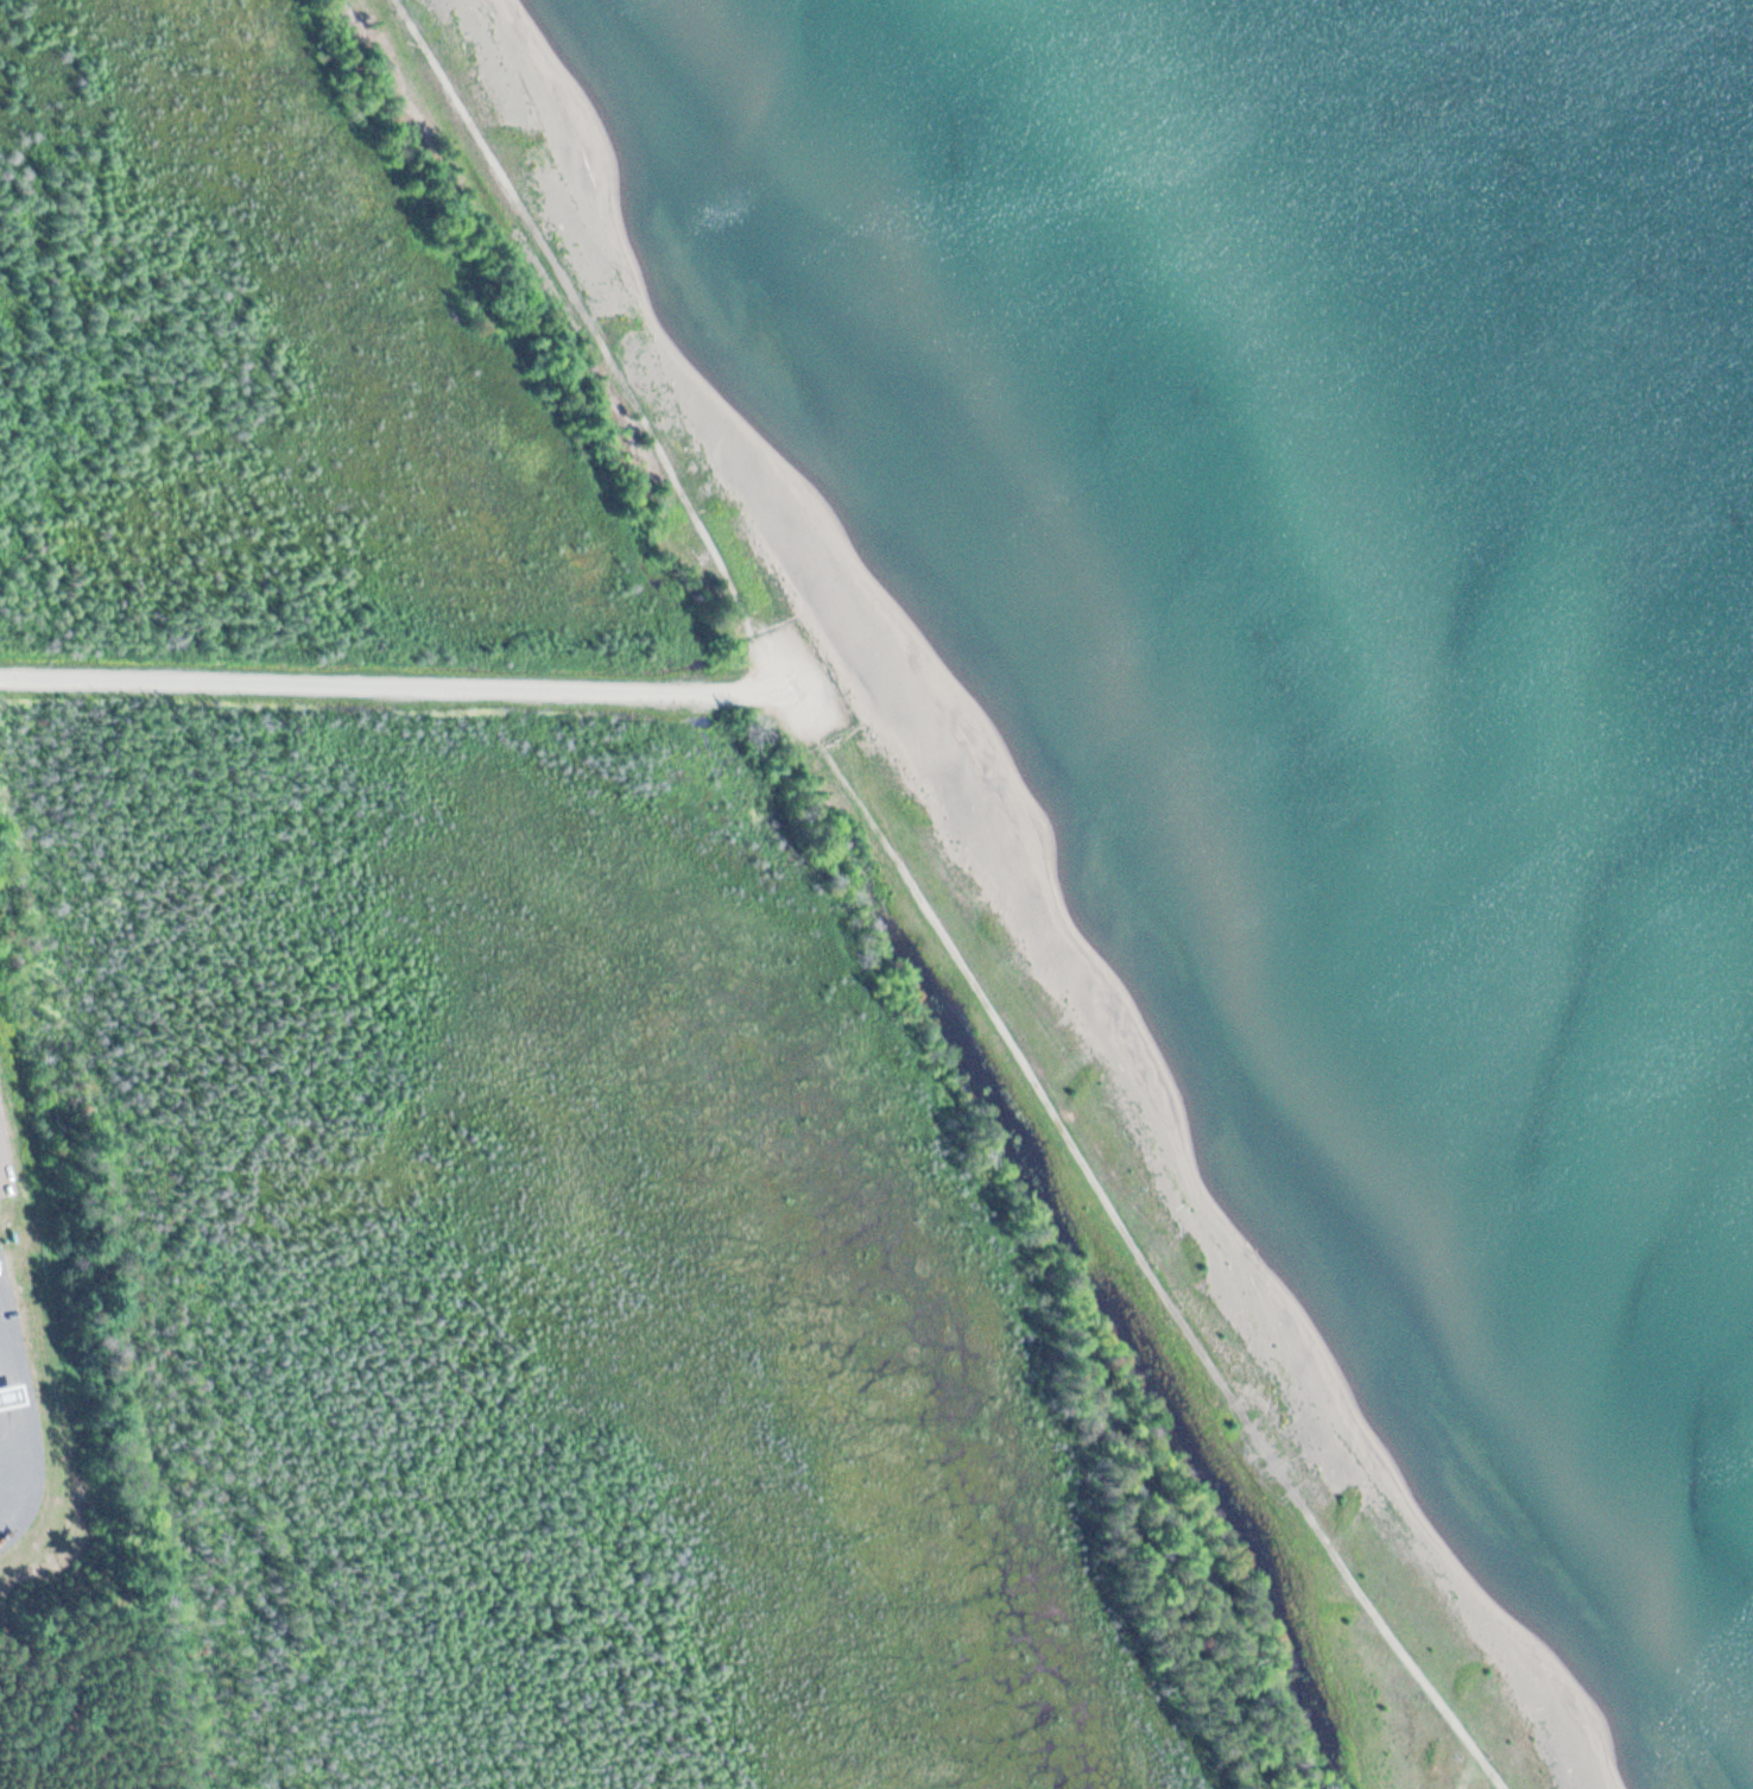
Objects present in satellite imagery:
road: (361, 677)
building: (4, 1390)

